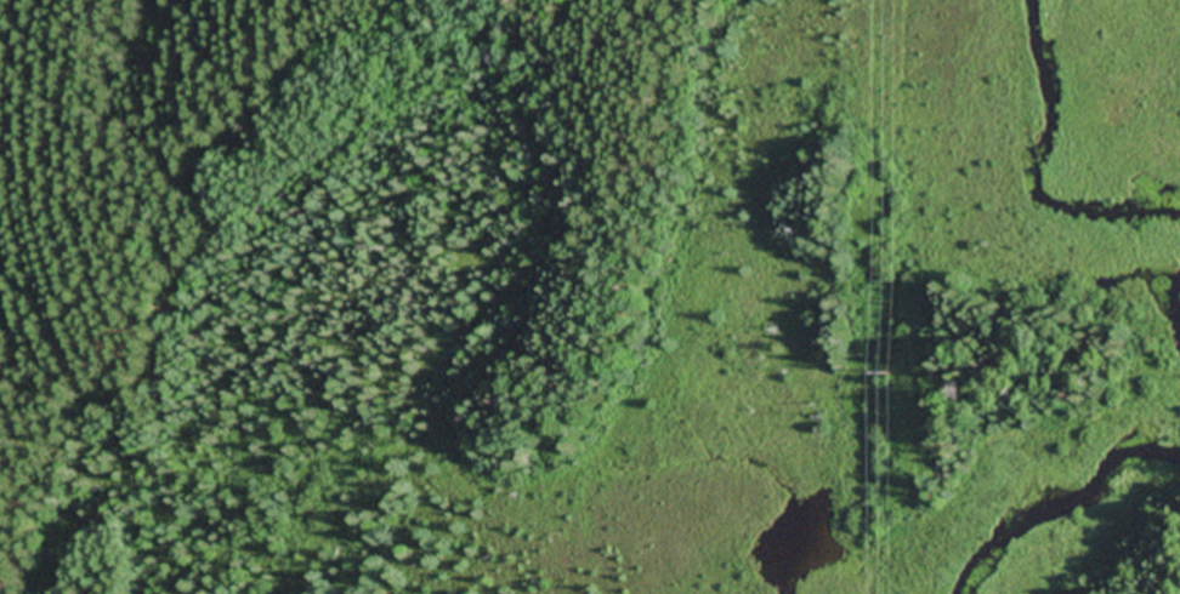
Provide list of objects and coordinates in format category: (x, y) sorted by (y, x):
power tower: (889, 375)

